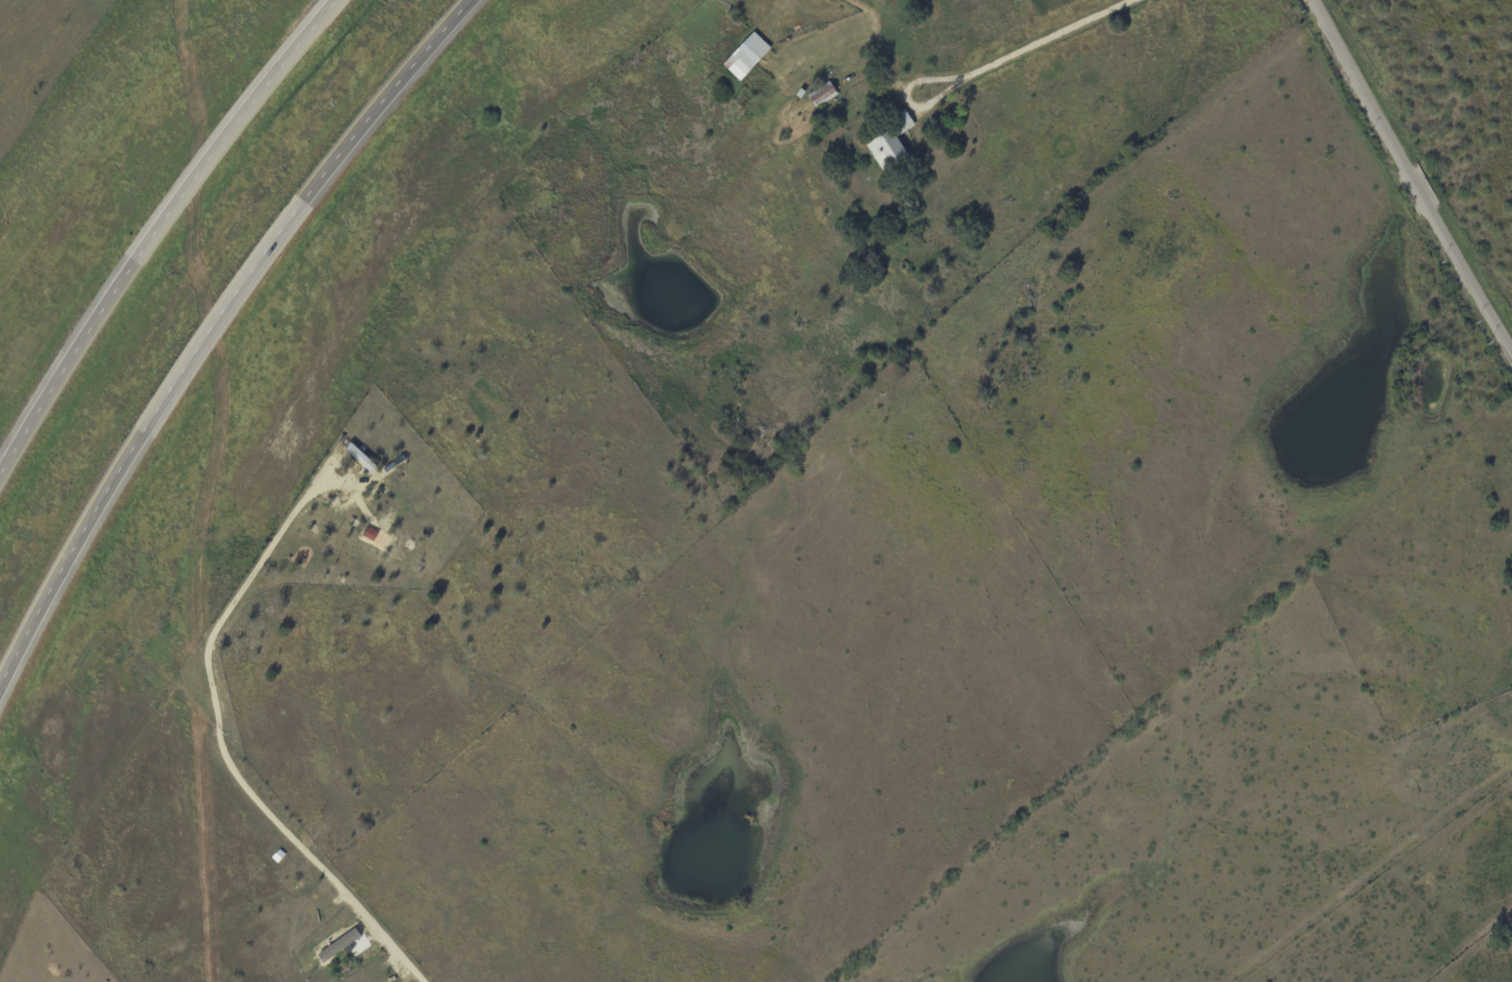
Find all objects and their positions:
road: (1046, 38)
building: (746, 55)
building: (822, 93)
road: (902, 98)
building: (902, 120)
building: (886, 149)
road: (1411, 178)
road: (157, 226)
road: (211, 324)
road: (220, 766)

